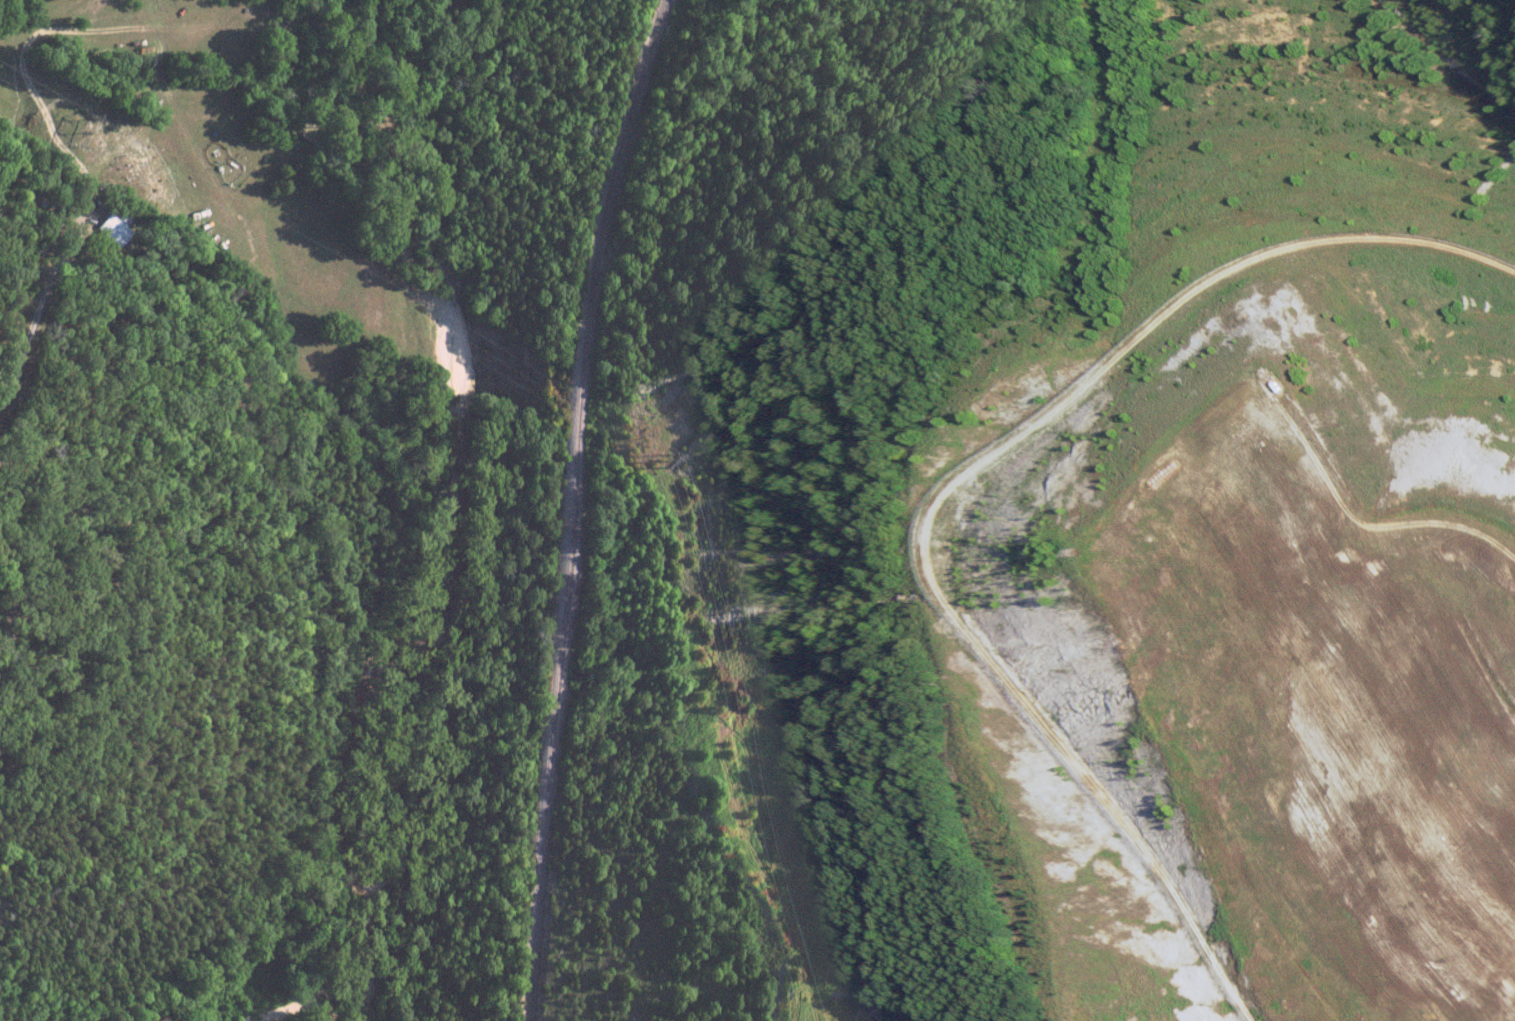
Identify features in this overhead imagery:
power tower: (81, 129)
building: (113, 225)
road: (39, 308)
power tower: (654, 462)
railway: (568, 505)
airport: (1194, 571)

